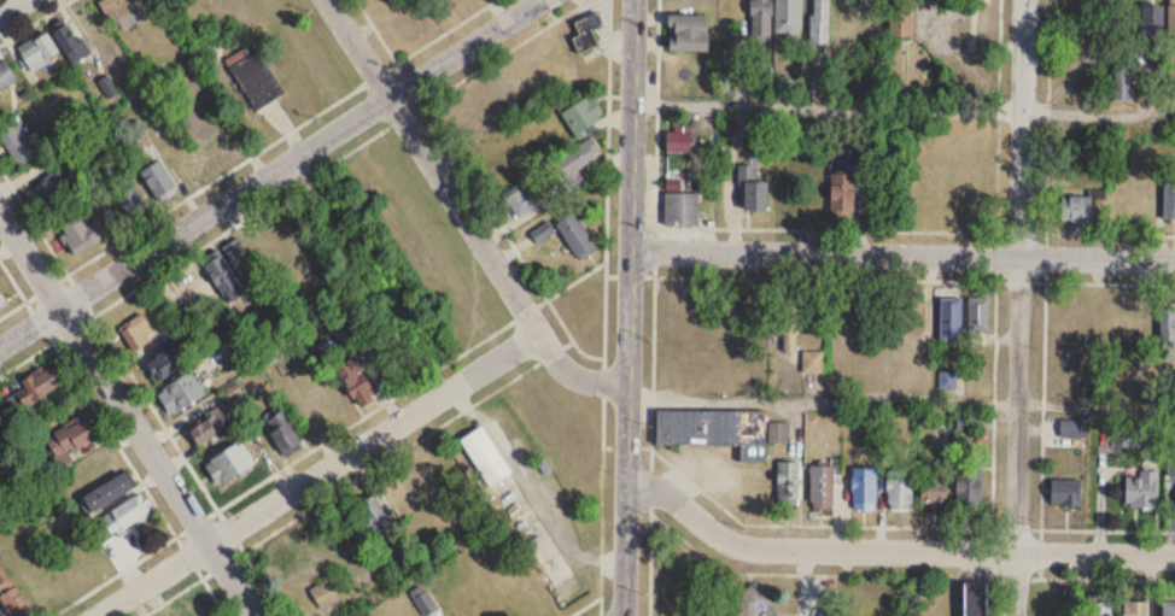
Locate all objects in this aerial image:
road: (12, 7)
building: (122, 14)
building: (788, 17)
road: (33, 20)
building: (761, 20)
building: (900, 20)
building: (820, 22)
building: (1151, 23)
building: (1171, 23)
building: (688, 33)
building: (587, 34)
building: (53, 47)
building: (256, 76)
building: (6, 77)
building: (1122, 83)
building: (1169, 95)
road: (904, 107)
road: (607, 129)
building: (17, 142)
building: (678, 142)
road: (258, 148)
building: (501, 158)
building: (578, 160)
building: (179, 162)
road: (269, 171)
road: (730, 177)
building: (62, 182)
building: (159, 182)
building: (753, 192)
building: (842, 195)
building: (129, 201)
building: (525, 201)
building: (1169, 201)
road: (265, 203)
building: (1075, 209)
building: (680, 210)
road: (463, 212)
road: (497, 218)
building: (82, 234)
building: (271, 235)
building: (577, 236)
road: (902, 254)
building: (242, 260)
road: (695, 274)
building: (222, 275)
road: (21, 292)
building: (1, 301)
road: (534, 305)
road: (629, 307)
road: (1018, 307)
building: (977, 313)
building: (951, 318)
building: (791, 322)
building: (1120, 323)
building: (1167, 324)
building: (136, 333)
road: (46, 344)
building: (164, 363)
building: (352, 380)
building: (42, 382)
building: (181, 393)
road: (901, 397)
road: (127, 413)
road: (651, 420)
building: (210, 428)
building: (715, 430)
building: (778, 433)
building: (283, 434)
road: (112, 438)
building: (71, 440)
building: (485, 457)
building: (228, 463)
road: (188, 464)
road: (316, 473)
building: (789, 482)
building: (822, 487)
building: (864, 488)
building: (969, 488)
building: (900, 489)
building: (1140, 491)
building: (934, 492)
building: (1065, 492)
building: (105, 493)
road: (990, 495)
building: (124, 515)
building: (374, 517)
road: (893, 550)
building: (327, 594)
road: (214, 596)
road: (592, 599)
building: (975, 599)
building: (423, 600)
building: (752, 603)
building: (1100, 608)
building: (1168, 609)

